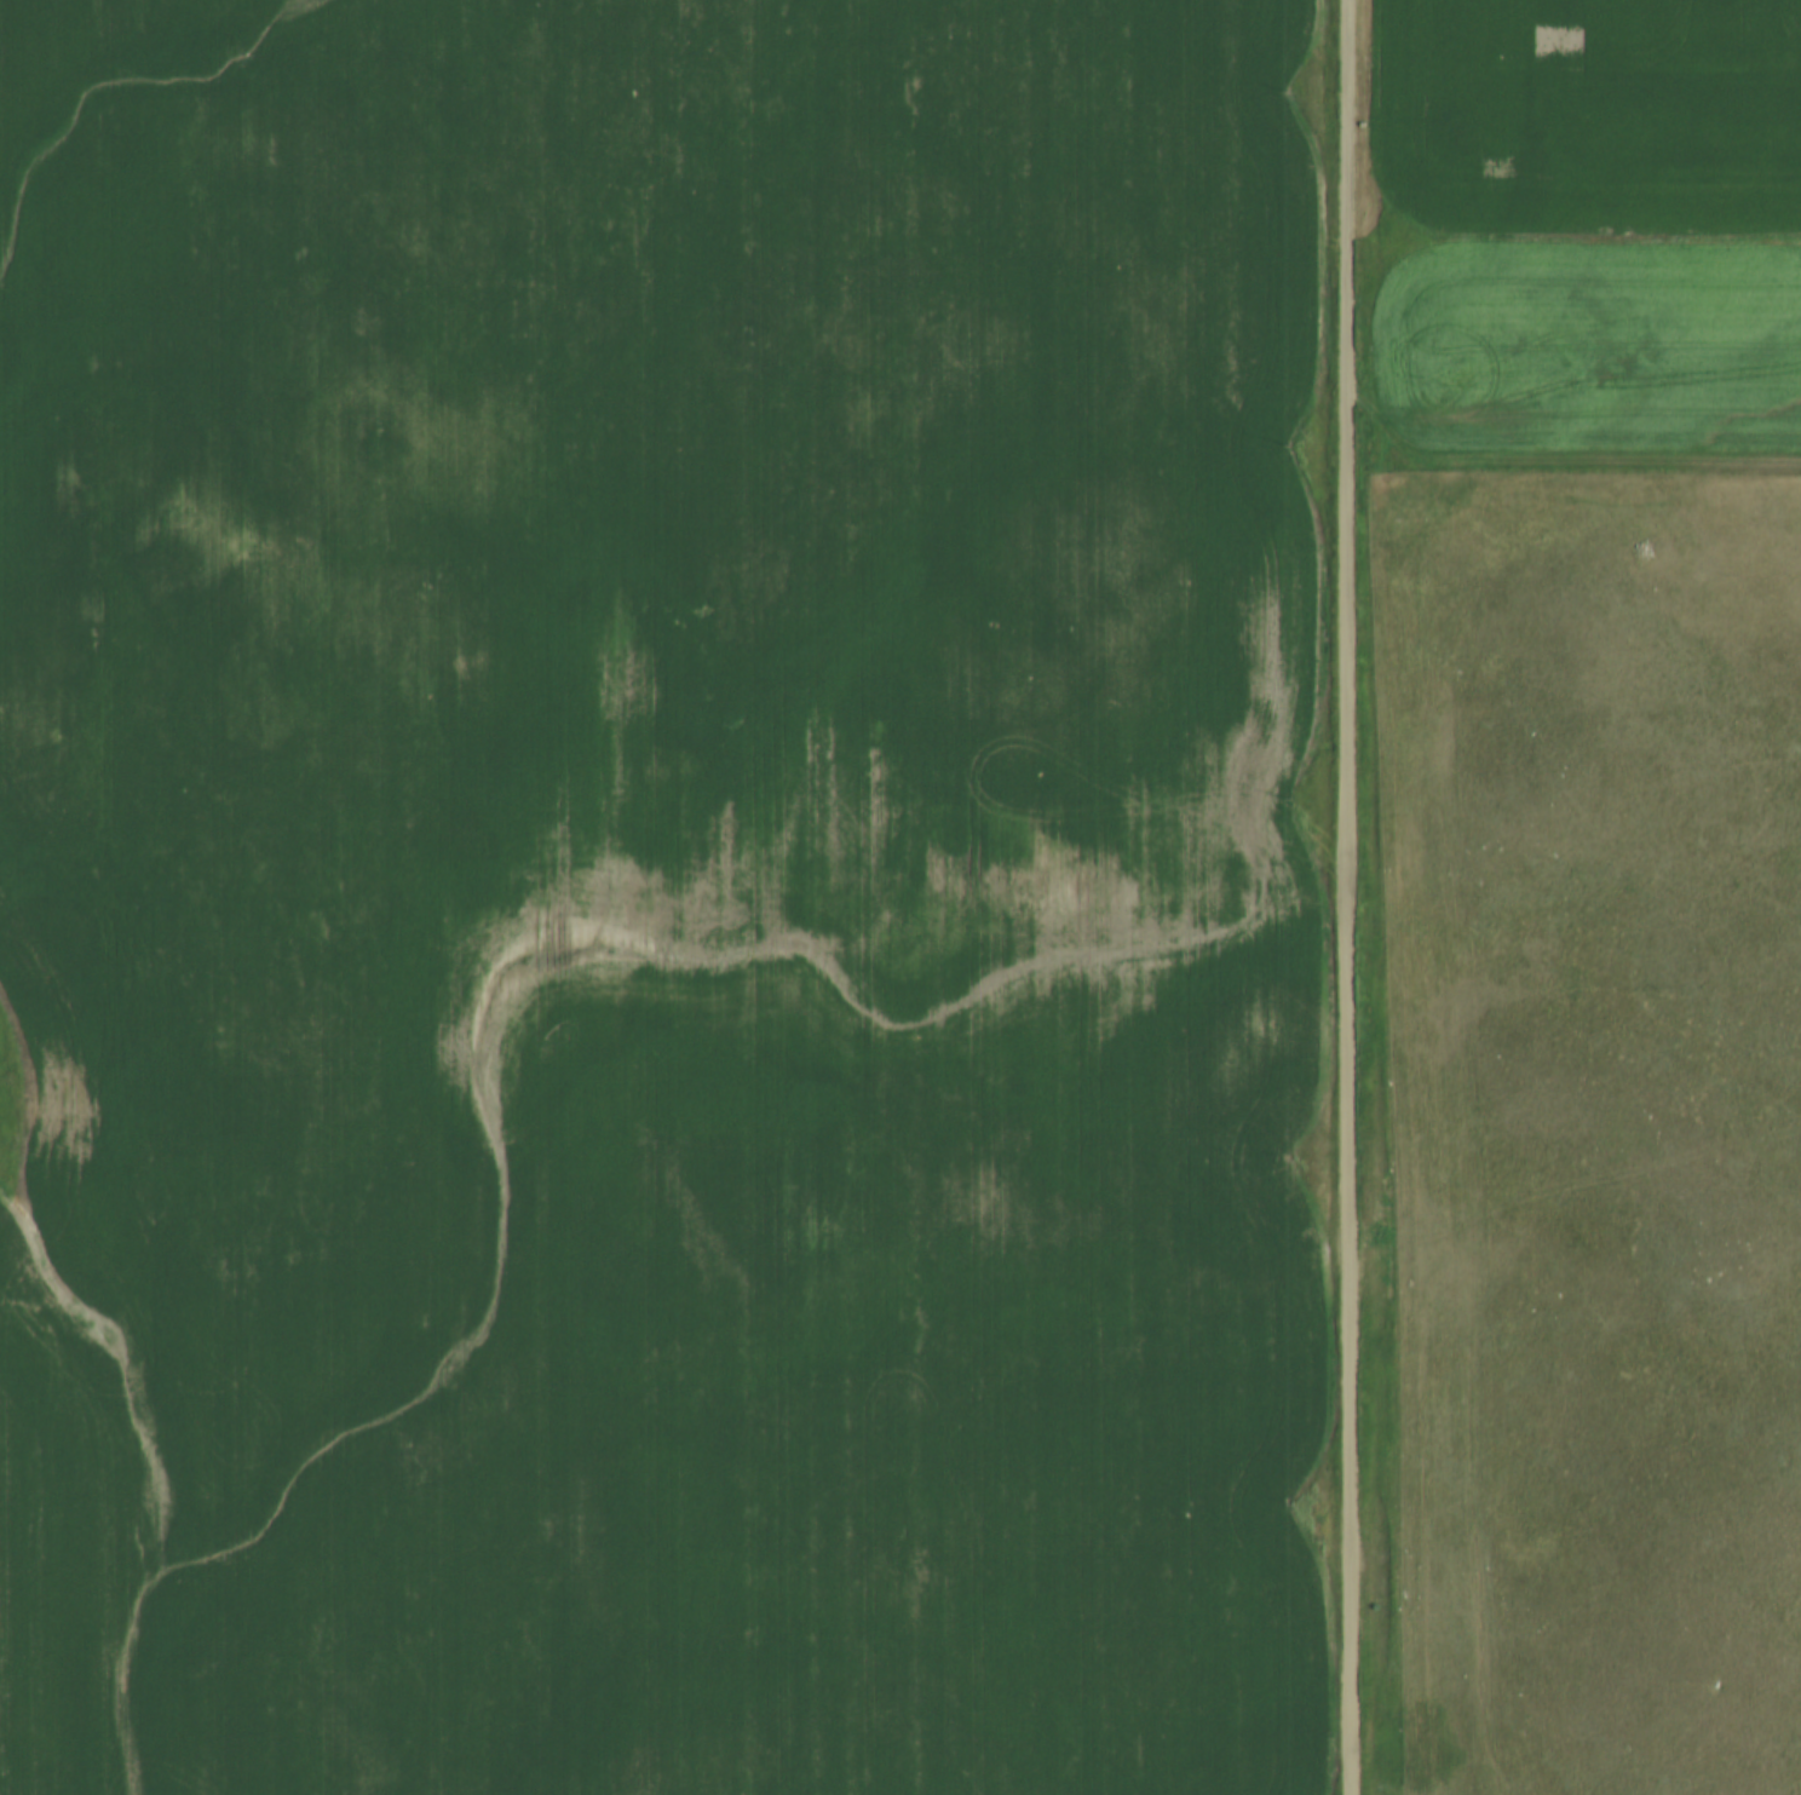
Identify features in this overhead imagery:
road: (1348, 897)

